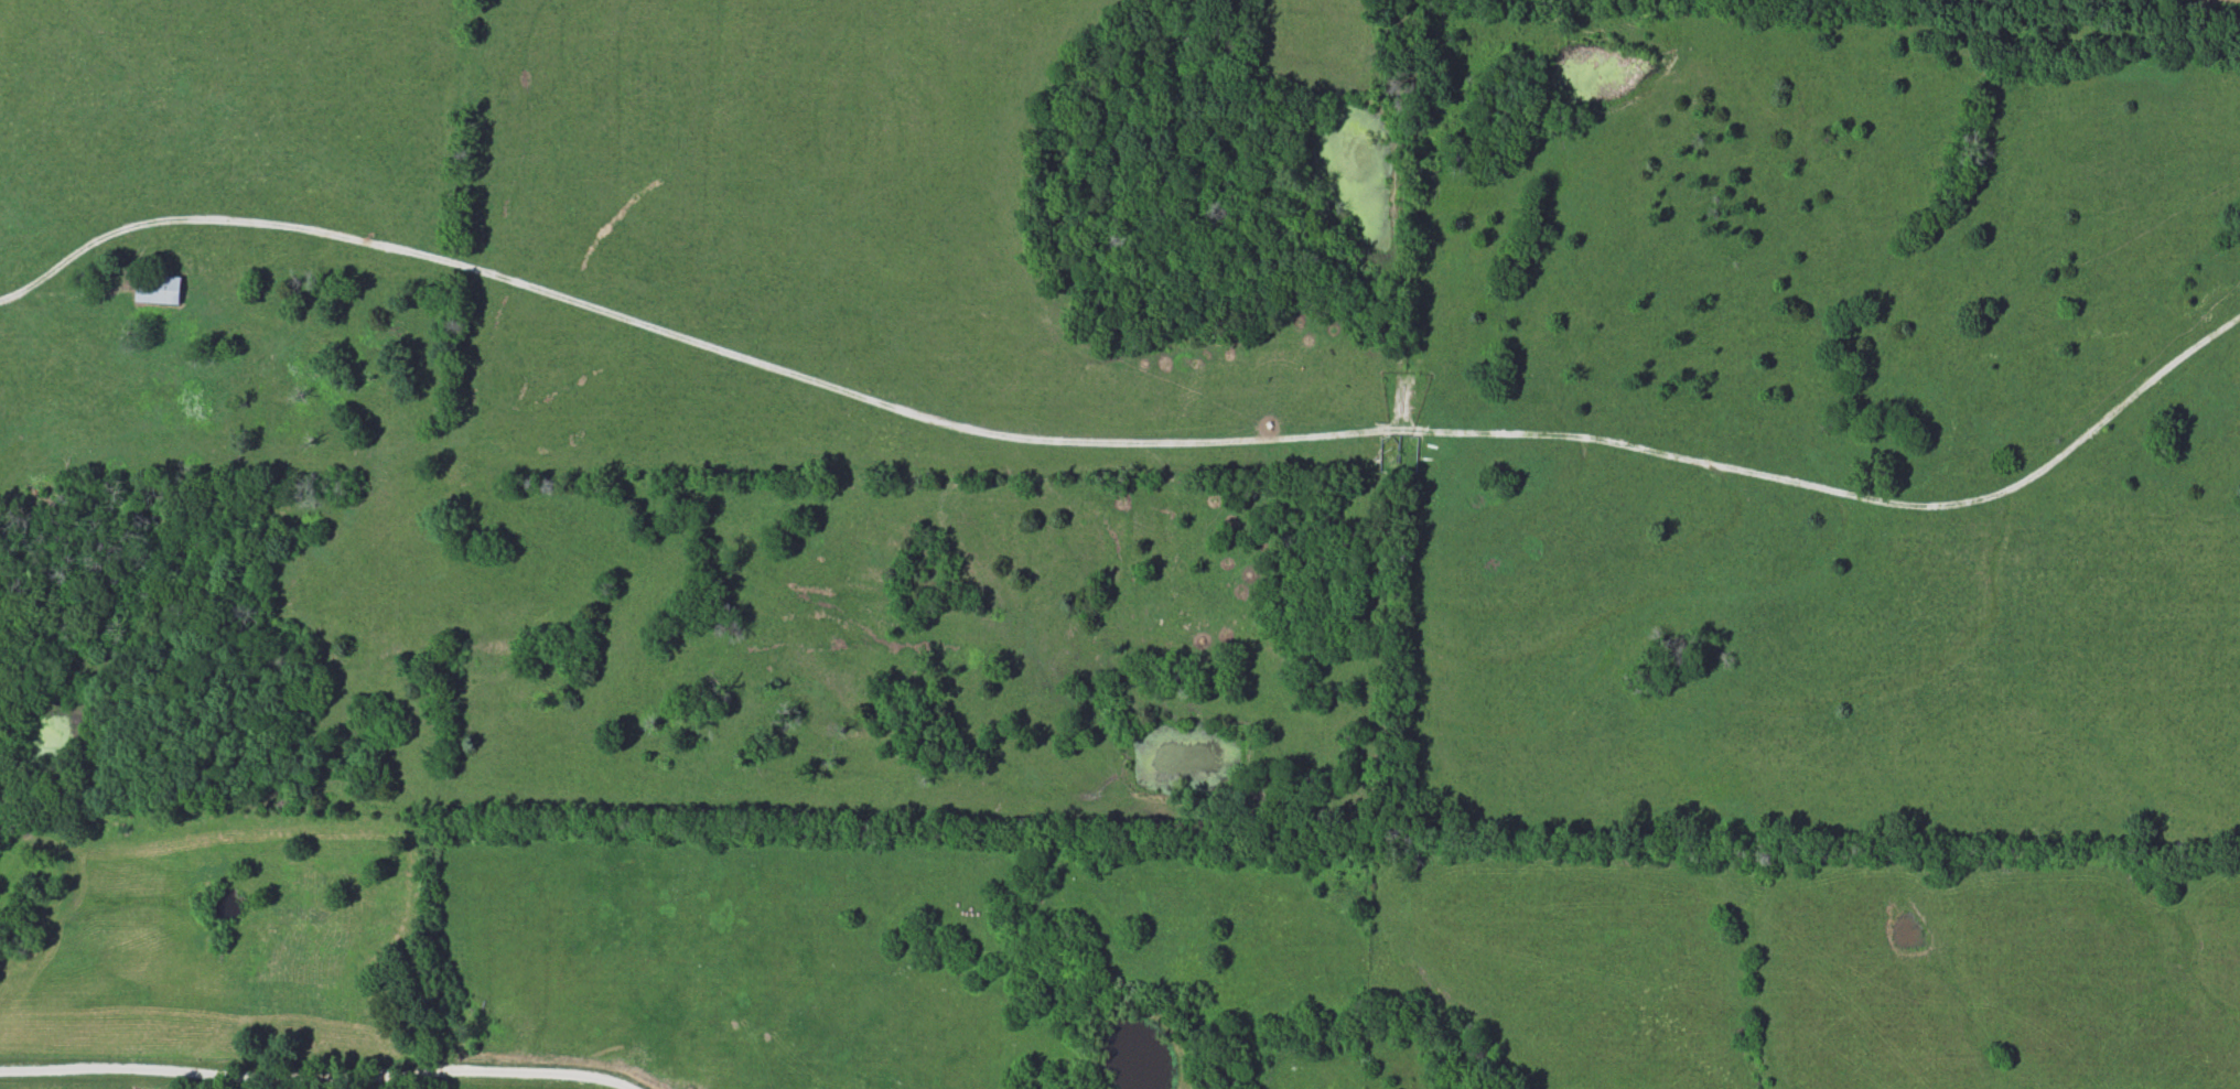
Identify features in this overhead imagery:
building: (157, 290)
road: (1126, 442)
road: (317, 1076)

